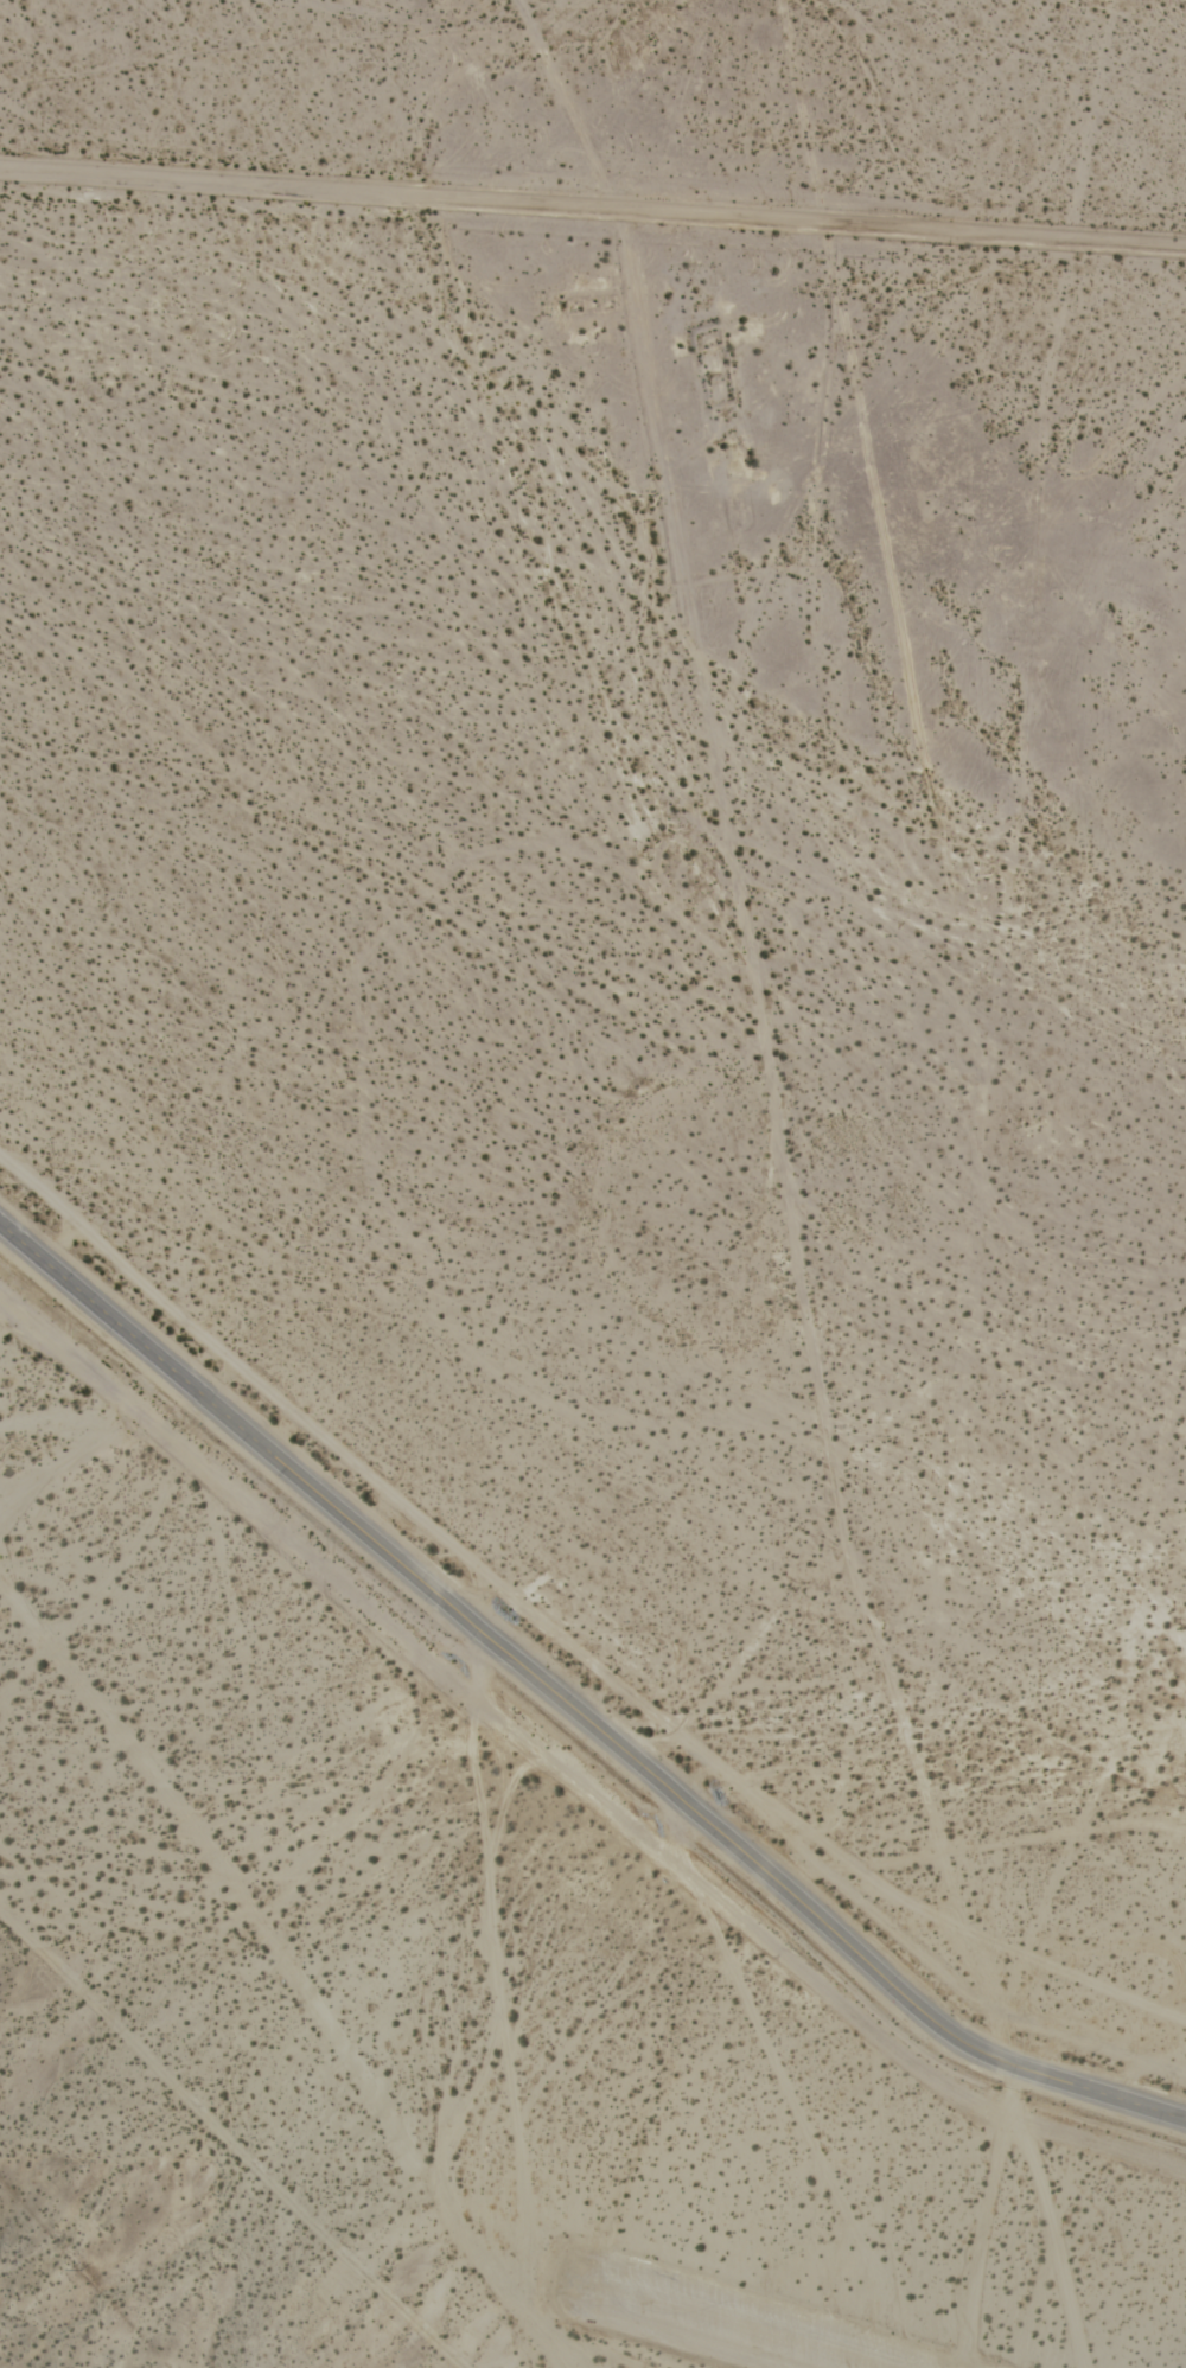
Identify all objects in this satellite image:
road: (593, 209)
road: (573, 1708)
airport: (933, 1845)
road: (1075, 2134)
airport apron: (725, 2317)

